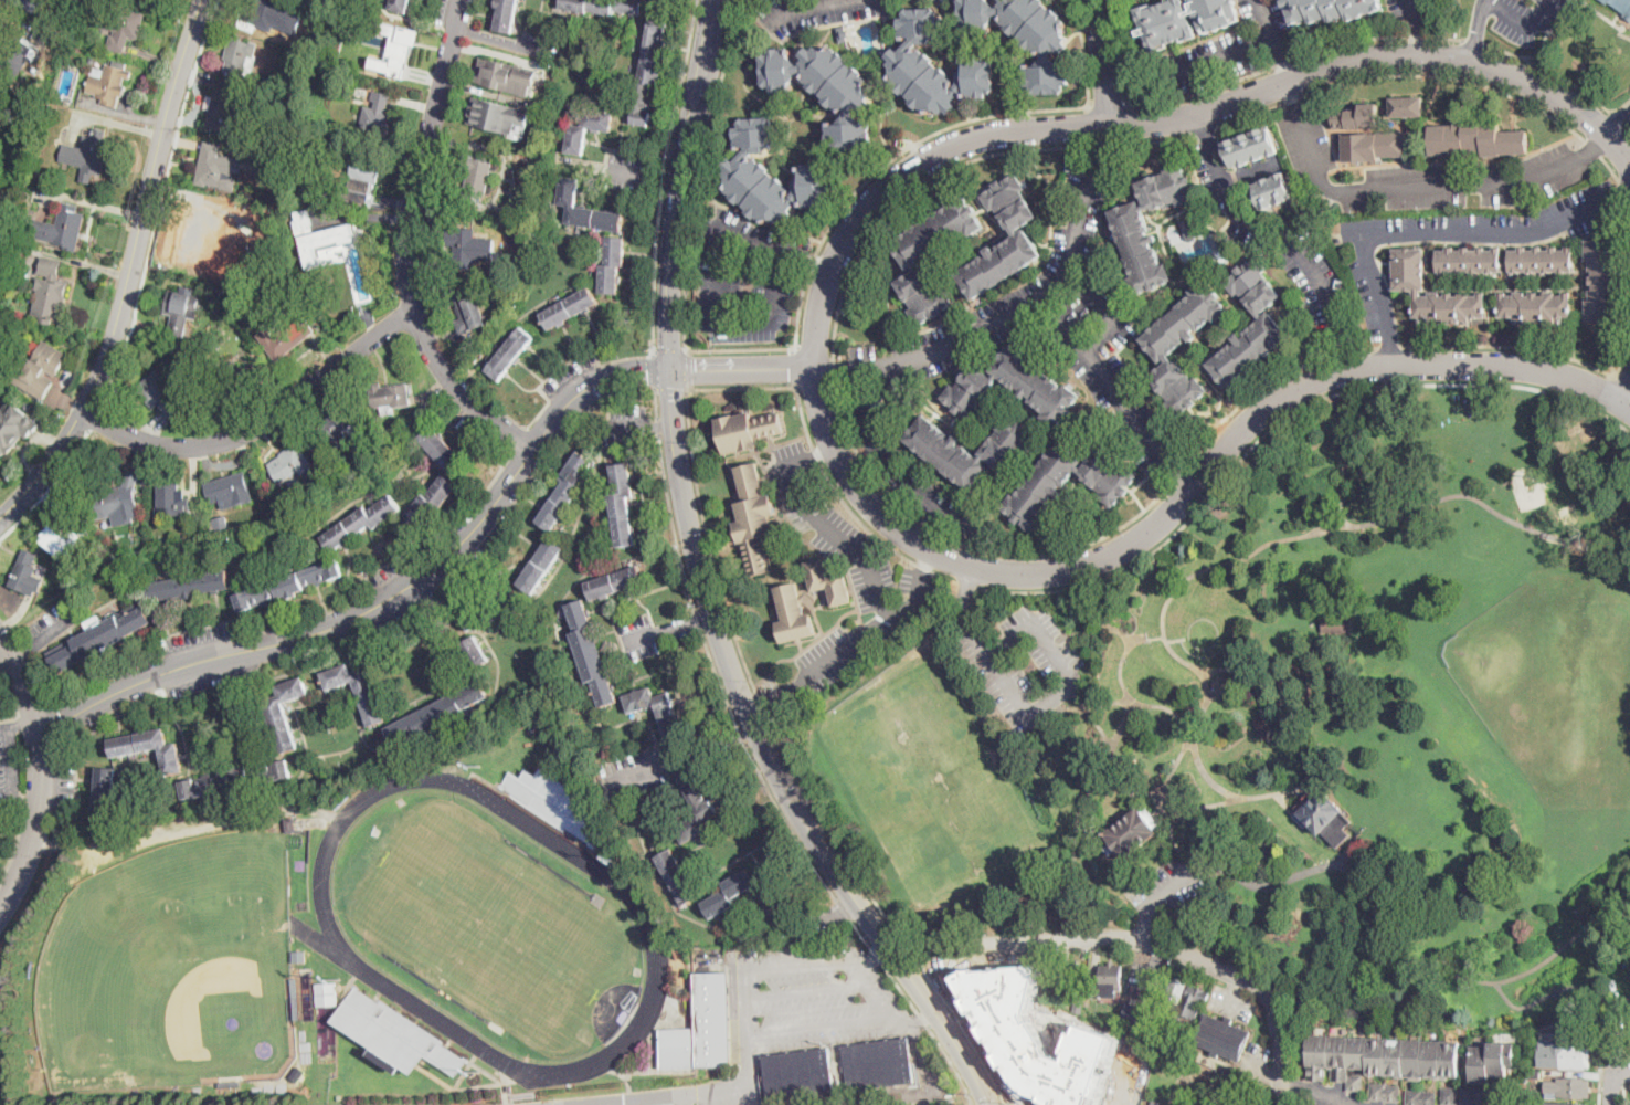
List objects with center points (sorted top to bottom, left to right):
building: (401, 4)
road: (798, 4)
building: (604, 6)
building: (1621, 6)
building: (36, 7)
building: (1332, 9)
parking lot: (815, 12)
building: (272, 14)
building: (506, 14)
parking lot: (1269, 17)
parking lot: (1528, 17)
building: (1185, 20)
road: (1527, 21)
building: (55, 24)
building: (125, 25)
road: (1414, 28)
building: (343, 30)
road: (1479, 30)
building: (843, 34)
building: (43, 35)
building: (1026, 36)
road: (498, 39)
road: (1274, 40)
road: (1475, 42)
building: (395, 48)
road: (1123, 51)
road: (1086, 52)
building: (240, 54)
road: (1222, 56)
road: (1293, 56)
building: (17, 57)
parking lot: (1208, 59)
road: (1102, 60)
building: (934, 66)
building: (649, 70)
road: (1554, 71)
road: (1405, 73)
building: (506, 74)
building: (108, 82)
road: (682, 86)
building: (826, 91)
road: (1289, 97)
road: (1109, 104)
road: (1621, 105)
building: (1407, 106)
building: (7, 110)
building: (222, 113)
building: (497, 114)
building: (378, 115)
road: (1622, 120)
road: (1618, 124)
road: (1205, 130)
building: (1367, 135)
road: (1163, 138)
building: (1476, 138)
building: (576, 141)
parking lot: (1308, 141)
road: (1110, 143)
building: (1252, 146)
road: (1594, 146)
road: (1595, 146)
road: (425, 151)
building: (88, 154)
building: (215, 165)
road: (1610, 167)
building: (362, 172)
road: (699, 172)
road: (633, 175)
building: (771, 175)
road: (1250, 175)
building: (477, 177)
road: (666, 180)
road: (668, 180)
parking lot: (1458, 180)
road: (1414, 187)
building: (1274, 188)
road: (1620, 190)
road: (1624, 190)
road: (911, 192)
road: (850, 199)
road: (161, 203)
building: (586, 209)
building: (54, 215)
building: (1131, 222)
building: (63, 227)
building: (1190, 229)
road: (1441, 229)
road: (1280, 234)
building: (318, 236)
building: (1019, 240)
building: (463, 246)
building: (914, 257)
building: (1542, 259)
building: (1470, 261)
road: (817, 263)
building: (613, 264)
road: (655, 269)
building: (1410, 269)
building: (275, 272)
road: (130, 273)
parking lot: (747, 278)
building: (1603, 281)
building: (230, 287)
building: (50, 292)
building: (209, 294)
road: (719, 295)
building: (1535, 306)
building: (570, 307)
road: (1022, 309)
building: (469, 311)
building: (181, 312)
road: (1110, 313)
building: (27, 319)
building: (1268, 320)
building: (285, 338)
road: (1486, 344)
road: (1390, 345)
building: (1163, 347)
road: (1367, 347)
road: (1388, 347)
road: (670, 349)
road: (815, 350)
road: (1344, 351)
building: (510, 354)
road: (1623, 358)
building: (3, 364)
road: (813, 365)
road: (1595, 365)
road: (794, 366)
road: (687, 368)
building: (40, 369)
road: (655, 369)
traffic signals: (673, 369)
road: (835, 369)
building: (0, 372)
building: (223, 376)
road: (1623, 378)
building: (237, 382)
road: (541, 383)
road: (816, 383)
road: (717, 386)
road: (459, 388)
building: (1013, 388)
road: (670, 389)
road: (622, 392)
road: (1626, 392)
building: (166, 393)
road: (1115, 394)
building: (390, 397)
road: (1252, 397)
road: (1626, 403)
road: (658, 404)
road: (95, 418)
road: (1280, 421)
road: (263, 423)
building: (10, 424)
road: (664, 427)
building: (339, 429)
road: (626, 430)
road: (661, 430)
building: (747, 430)
building: (440, 446)
building: (945, 451)
road: (821, 454)
road: (1345, 461)
building: (295, 465)
road: (888, 470)
parking lot: (911, 471)
road: (1184, 472)
building: (1111, 482)
road: (49, 487)
building: (230, 490)
building: (565, 491)
building: (116, 497)
building: (172, 499)
building: (432, 499)
building: (623, 505)
parking lot: (813, 506)
building: (754, 518)
road: (1326, 519)
building: (361, 522)
building: (221, 524)
road: (1348, 526)
road: (837, 534)
building: (65, 538)
building: (167, 539)
road: (973, 546)
building: (129, 548)
road: (446, 557)
road: (927, 564)
building: (541, 565)
building: (27, 575)
parking lot: (872, 579)
building: (615, 582)
building: (829, 582)
road: (965, 585)
building: (188, 586)
building: (287, 586)
road: (707, 587)
road: (964, 589)
road: (1092, 609)
building: (490, 611)
building: (794, 615)
road: (686, 623)
building: (1336, 624)
parking lot: (50, 625)
road: (1098, 630)
road: (44, 639)
building: (99, 639)
road: (641, 639)
road: (858, 641)
parking lot: (855, 642)
building: (475, 652)
building: (591, 654)
parking lot: (210, 660)
parking lot: (1024, 663)
park: (1558, 686)
building: (359, 691)
road: (1055, 694)
road: (14, 704)
road: (1097, 704)
road: (766, 706)
building: (284, 713)
building: (437, 714)
building: (660, 714)
road: (22, 723)
park: (1298, 725)
road: (747, 746)
building: (149, 747)
road: (713, 747)
road: (12, 761)
parking lot: (9, 762)
road: (40, 771)
road: (648, 771)
building: (235, 779)
park: (927, 782)
road: (1094, 783)
parking lot: (61, 785)
building: (105, 788)
road: (1288, 791)
road: (1147, 794)
road: (27, 799)
building: (554, 801)
building: (695, 804)
road: (1210, 806)
building: (1327, 819)
road: (821, 821)
building: (290, 823)
road: (182, 827)
building: (1132, 832)
road: (17, 833)
road: (1176, 833)
building: (678, 876)
parking lot: (1172, 884)
building: (729, 894)
road: (29, 898)
road: (1154, 901)
road: (846, 911)
road: (809, 918)
park: (489, 925)
road: (329, 926)
track: (329, 926)
road: (887, 944)
road: (1145, 945)
road: (1393, 954)
building: (299, 955)
road: (915, 957)
road: (876, 959)
road: (988, 959)
road: (781, 967)
park: (163, 971)
building: (1069, 974)
building: (1110, 981)
road: (809, 990)
building: (1177, 991)
building: (308, 992)
building: (327, 992)
road: (1550, 996)
building: (296, 998)
parking lot: (813, 998)
road: (877, 1000)
building: (1195, 1001)
building: (1079, 1004)
building: (1139, 1014)
road: (923, 1020)
building: (1163, 1022)
road: (913, 1023)
road: (818, 1027)
building: (702, 1029)
building: (395, 1033)
building: (1034, 1036)
building: (1222, 1036)
building: (1574, 1036)
building: (327, 1038)
road: (976, 1040)
road: (1602, 1050)
road: (924, 1055)
road: (1616, 1056)
road: (1627, 1056)
building: (1574, 1057)
building: (1380, 1059)
building: (1491, 1062)
building: (879, 1064)
road: (952, 1065)
road: (1623, 1069)
building: (297, 1072)
building: (1536, 1072)
building: (798, 1073)
road: (1622, 1074)
road: (627, 1077)
building: (231, 1082)
road: (1124, 1082)
road: (739, 1085)
road: (1628, 1085)
road: (506, 1088)
building: (1574, 1088)
road: (1314, 1093)
building: (1385, 1093)
road: (1624, 1093)
building: (1451, 1096)
building: (1476, 1096)
building: (1421, 1097)
road: (655, 1101)
building: (1155, 1102)
road: (1012, 1103)
building: (1567, 1104)

